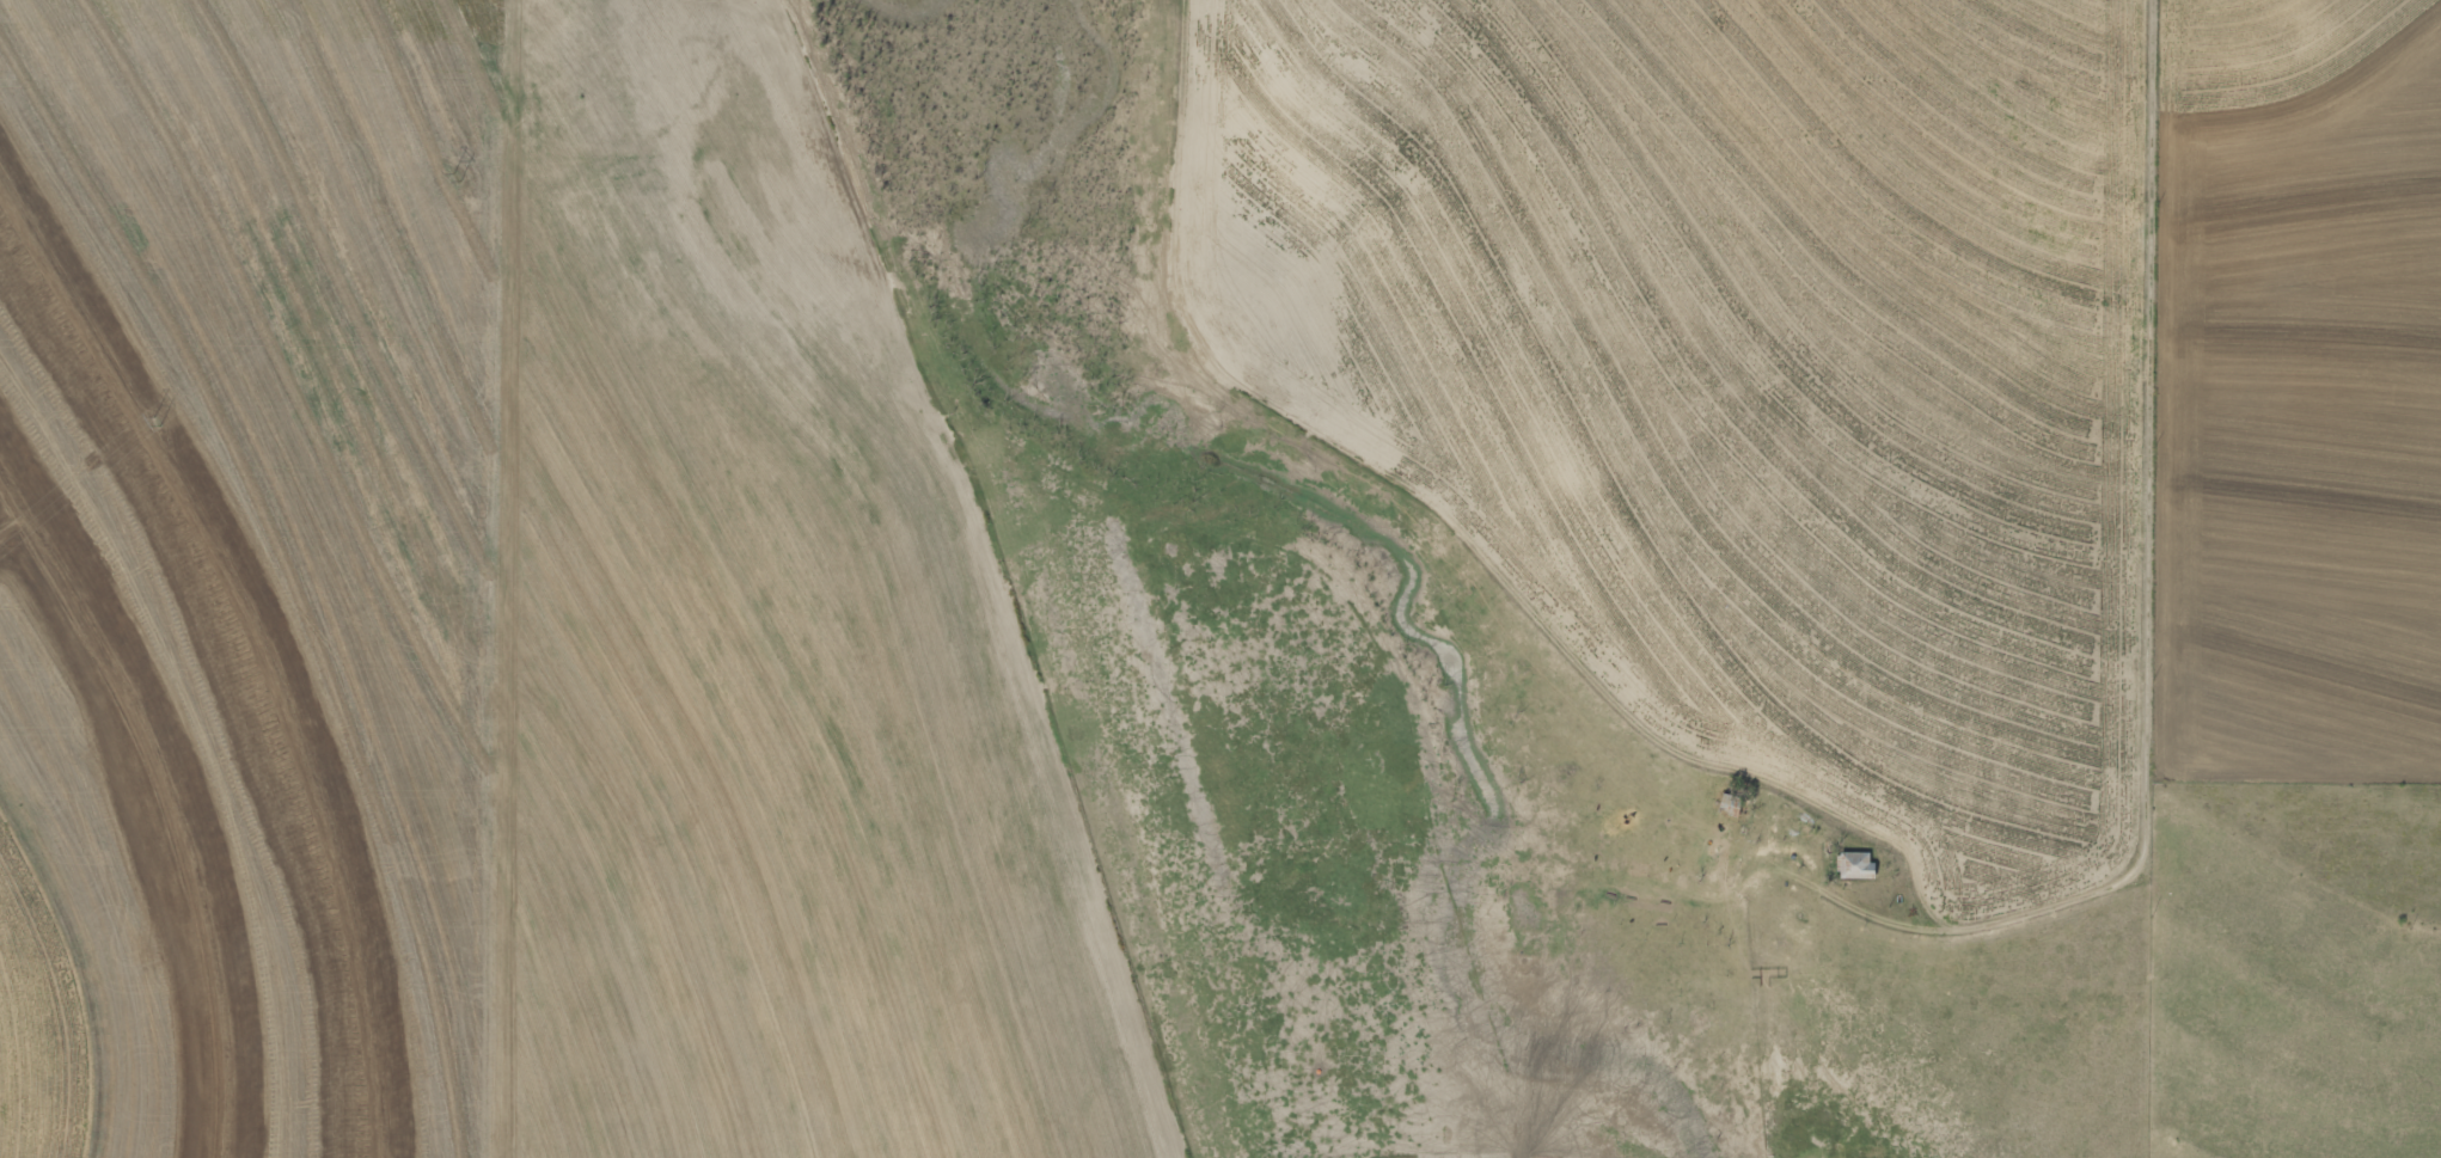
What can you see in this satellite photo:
power tower: (457, 182)
power tower: (163, 418)
road: (2152, 592)
building: (1856, 863)

